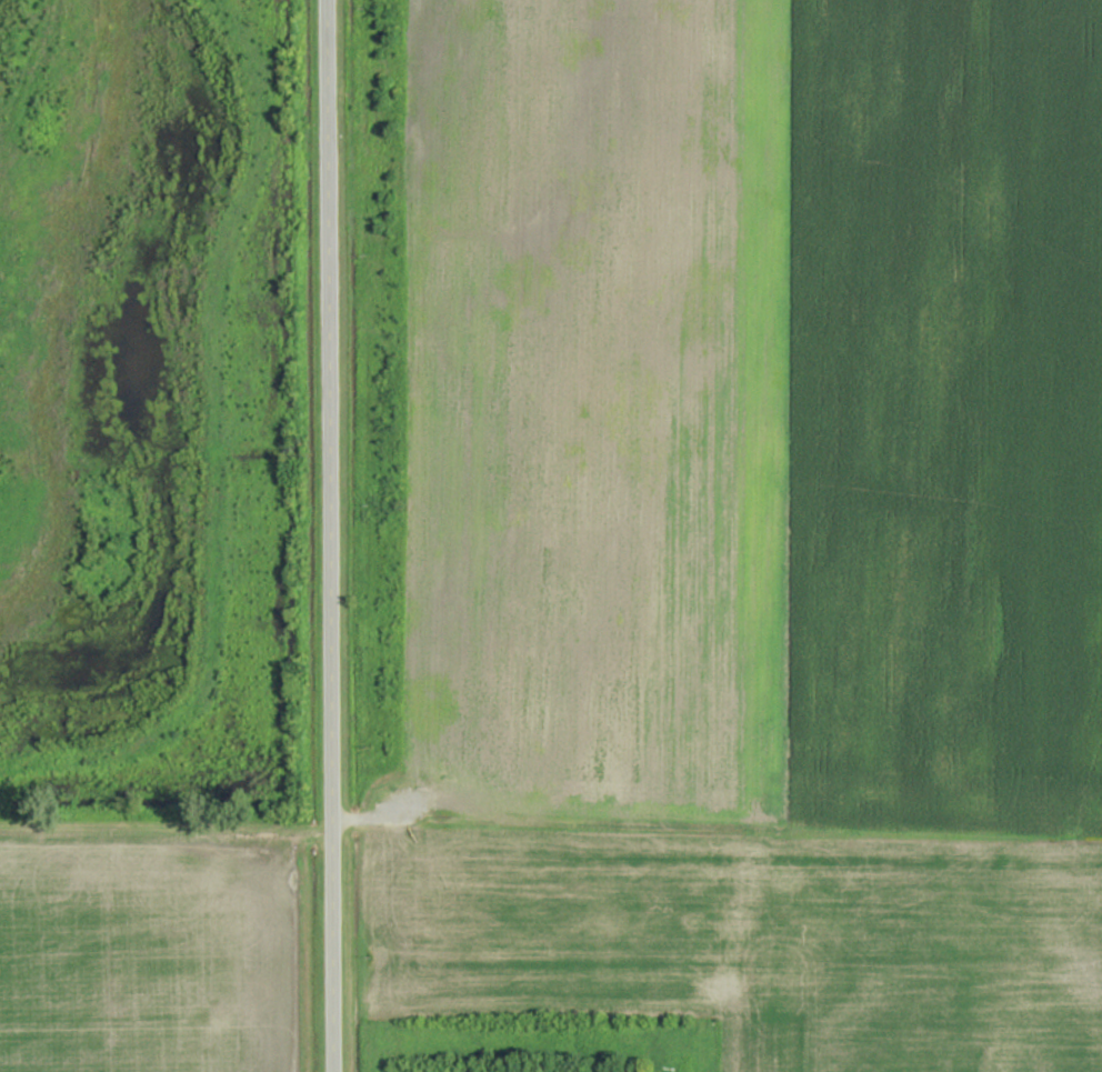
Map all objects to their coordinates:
road: (331, 535)

